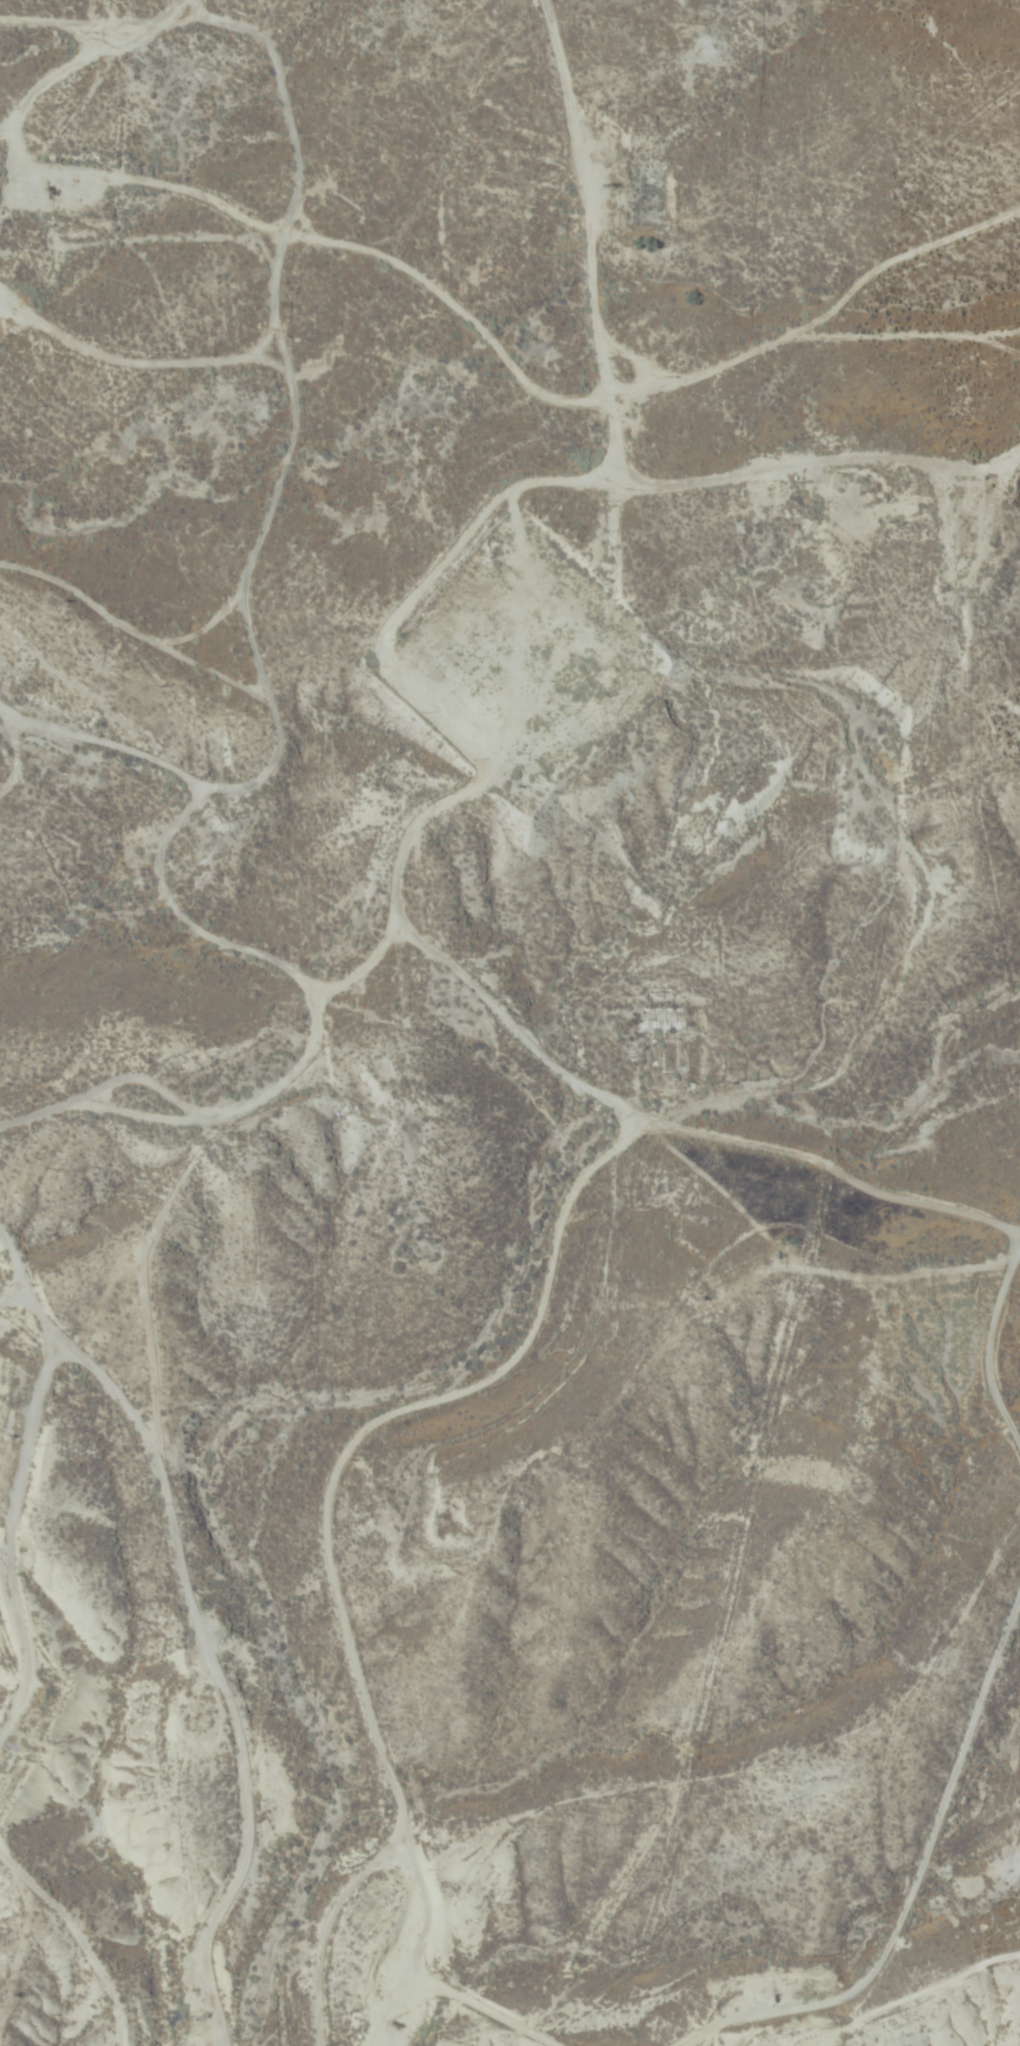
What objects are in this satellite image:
building: (961, 530)
road: (470, 759)
road: (43, 1353)
road: (323, 1563)
road: (156, 1723)

